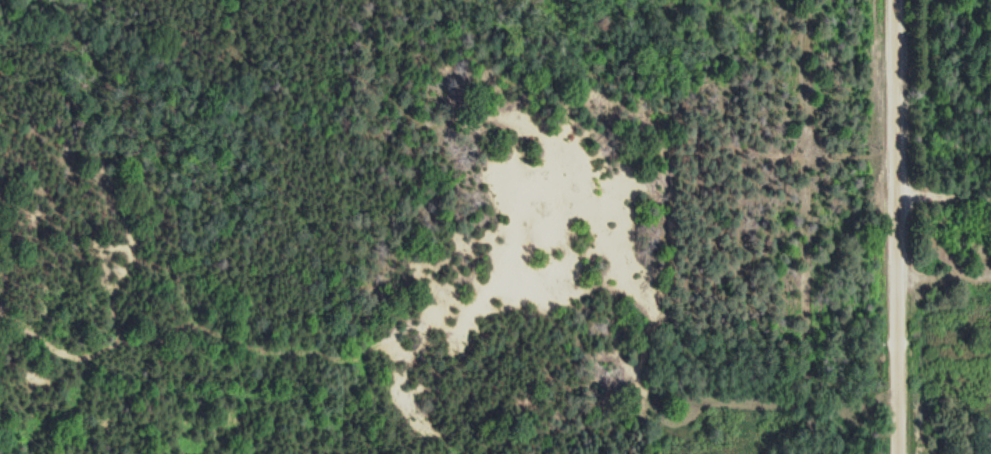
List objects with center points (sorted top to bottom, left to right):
road: (936, 205)
road: (881, 226)

